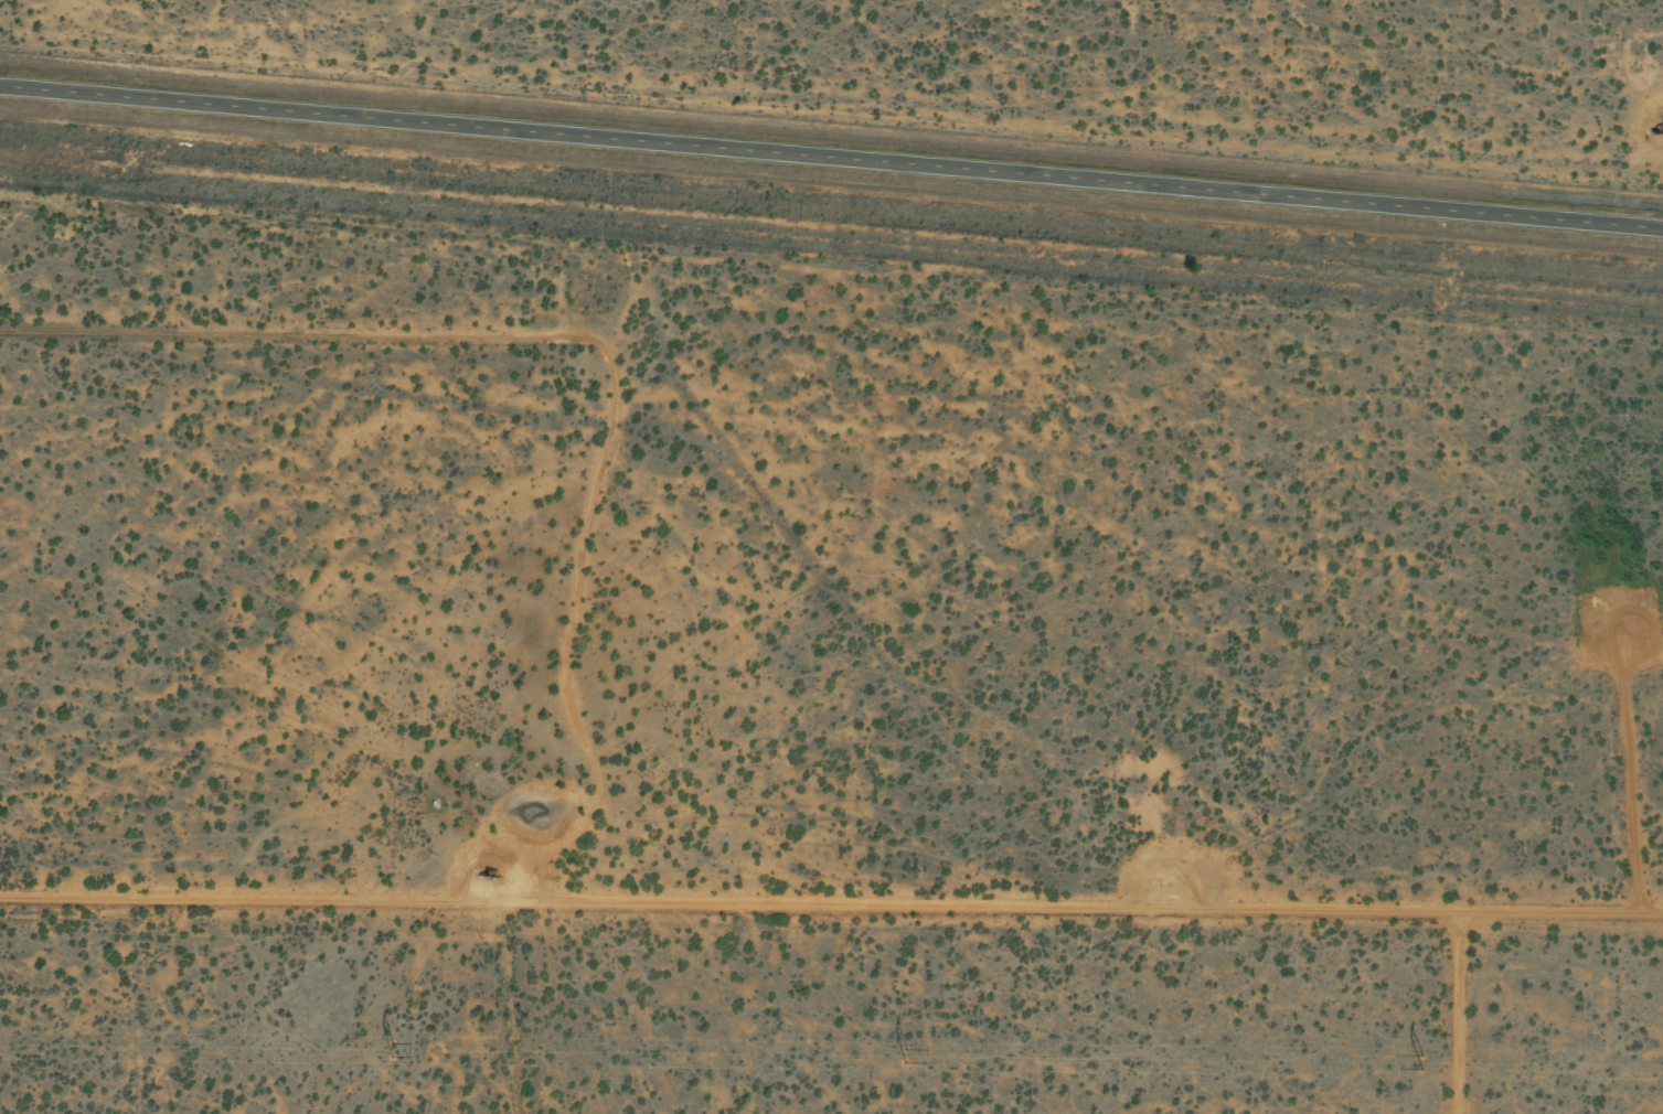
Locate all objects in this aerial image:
road: (831, 153)
road: (603, 468)
road: (834, 903)
road: (1568, 921)
power tower: (392, 1046)
power tower: (907, 1053)
power tower: (1425, 1058)

